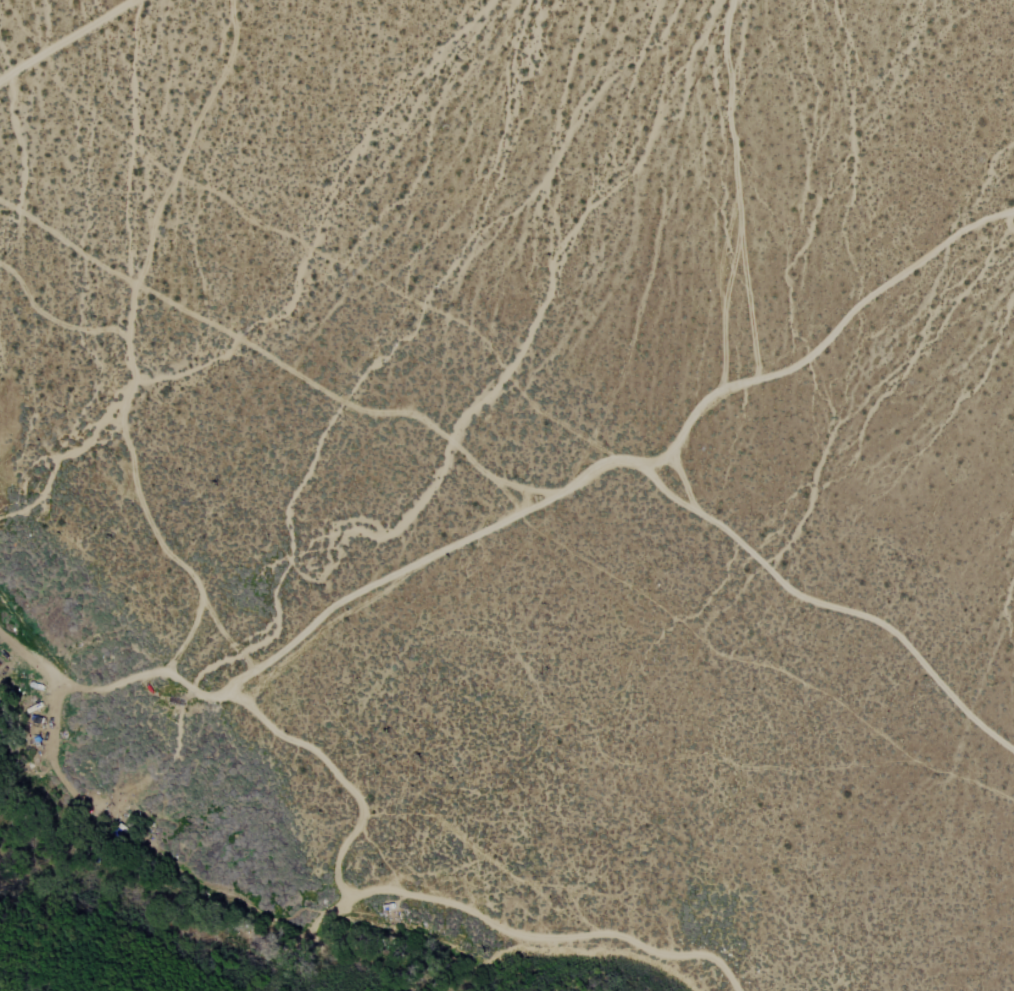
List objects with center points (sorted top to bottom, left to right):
river: (76, 953)

